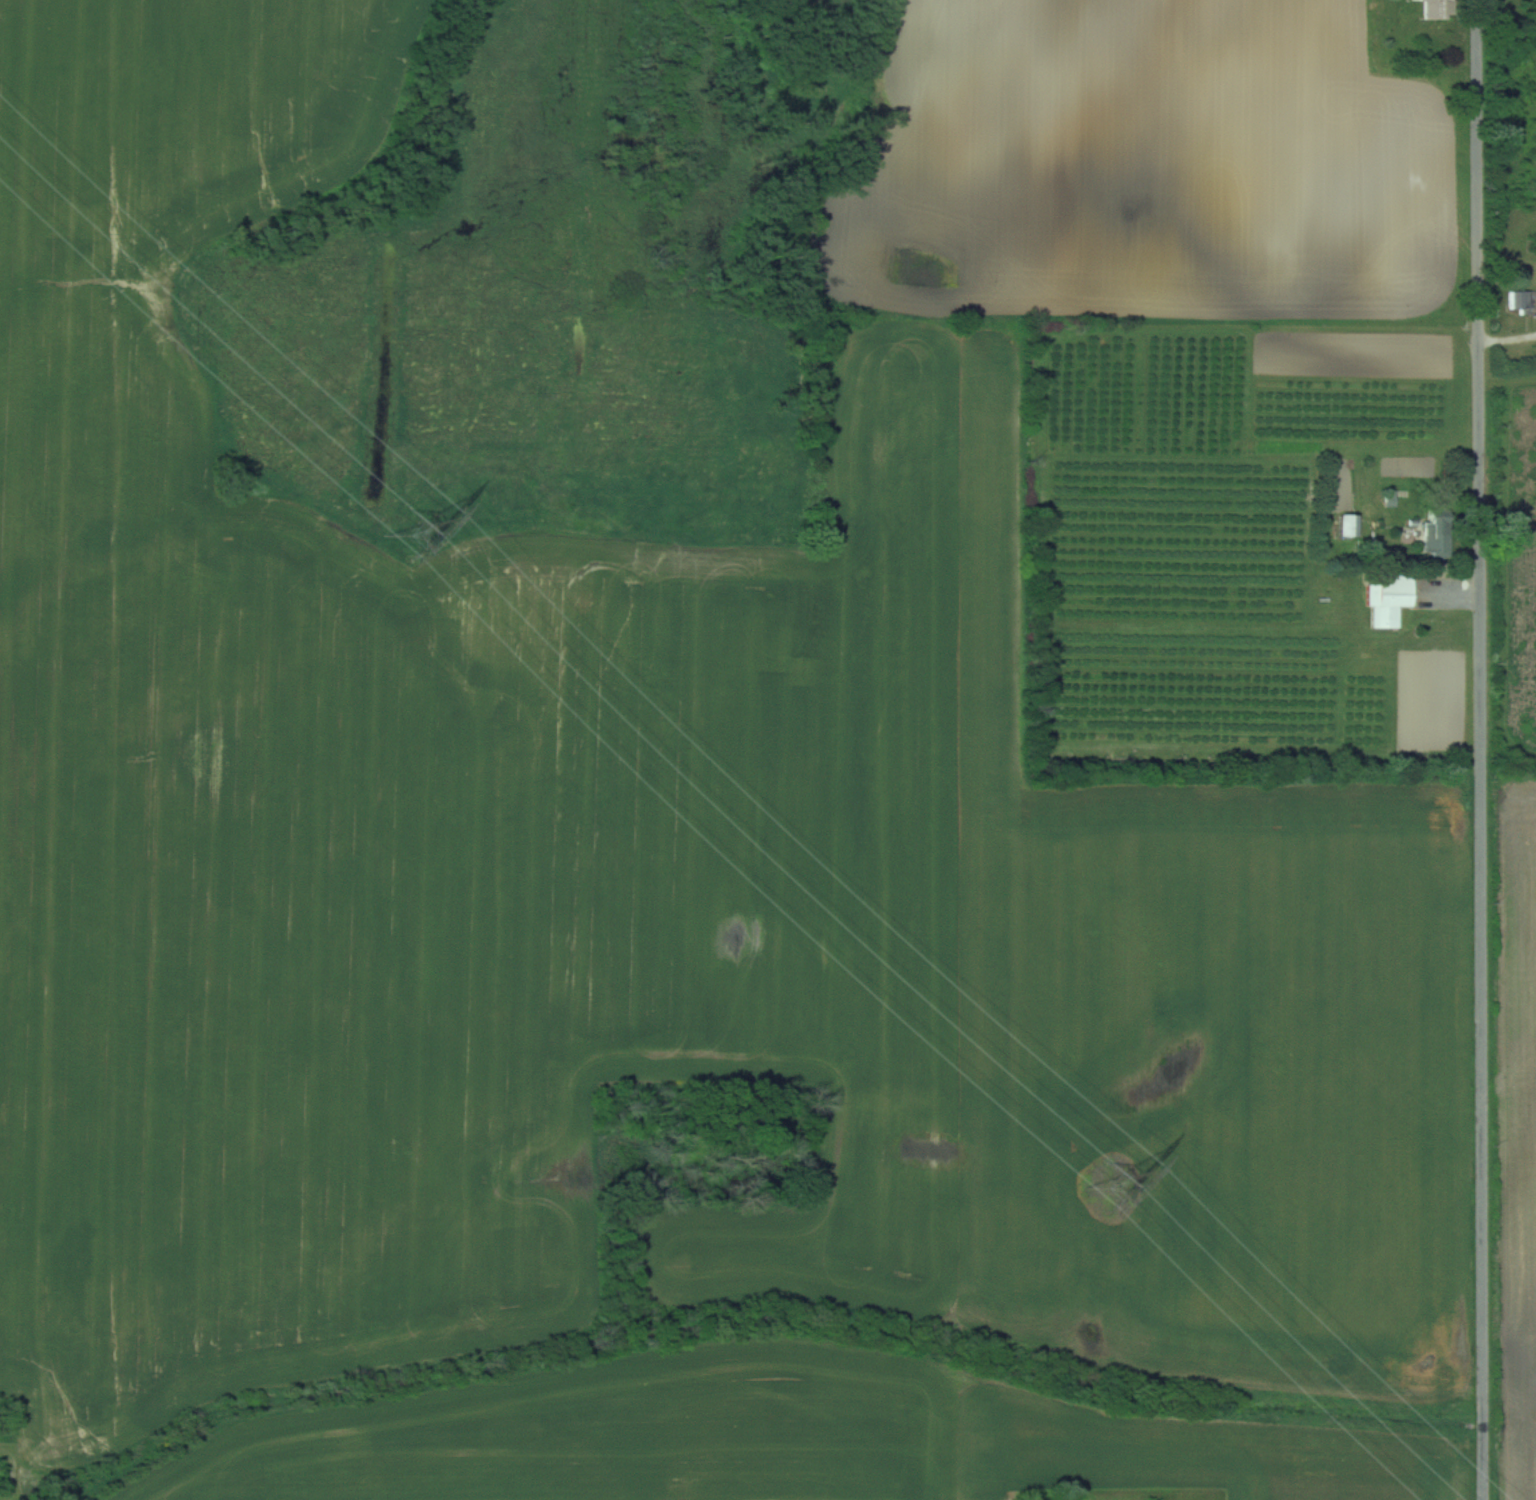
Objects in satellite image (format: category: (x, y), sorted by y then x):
building: (1435, 9)
building: (1519, 301)
building: (1390, 498)
building: (1436, 522)
building: (1346, 525)
power tower: (416, 534)
building: (1389, 603)
road: (1484, 749)
power tower: (1109, 1186)

